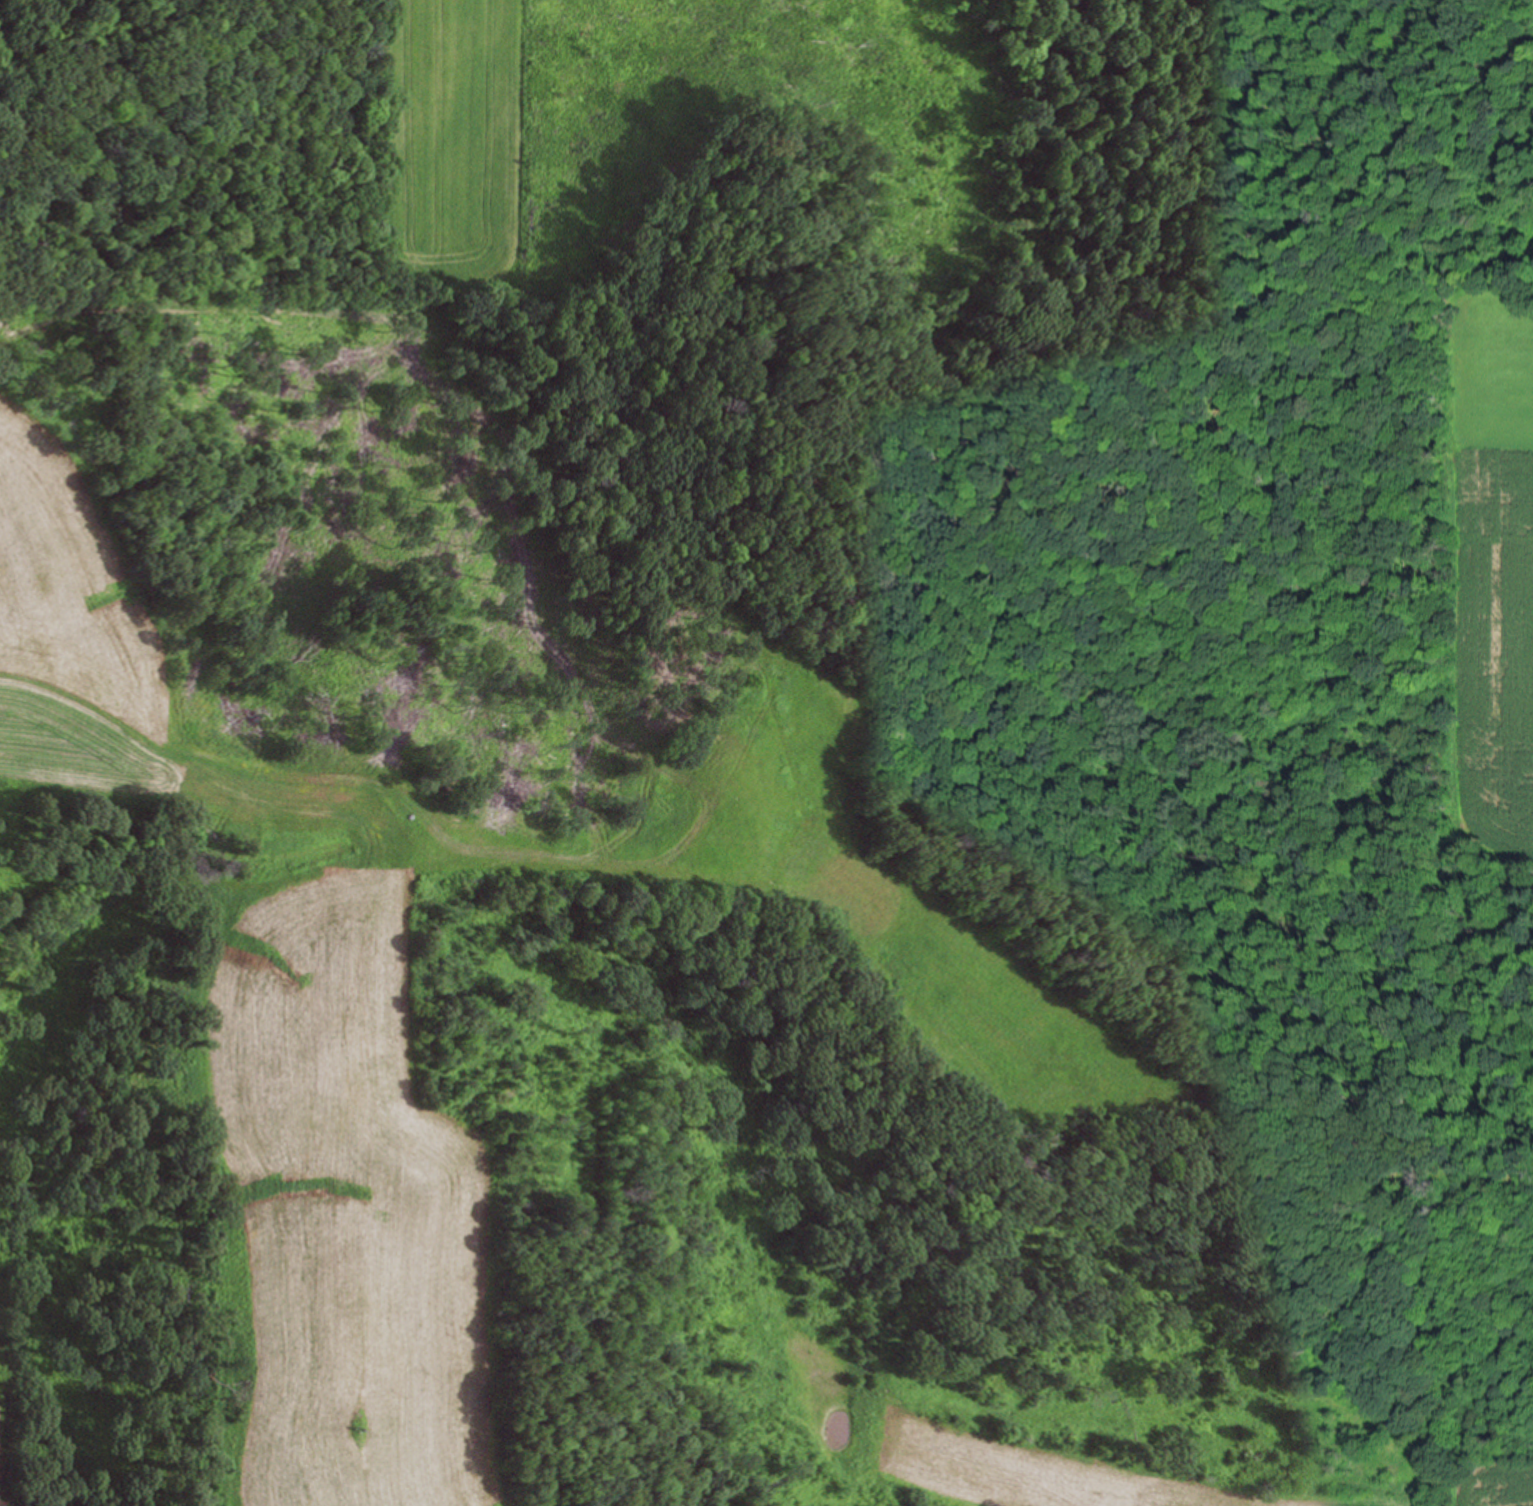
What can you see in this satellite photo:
crop: (454, 128)
crop: (1495, 578)
crop: (318, 948)
crop: (4, 1448)
crop: (1170, 1474)

